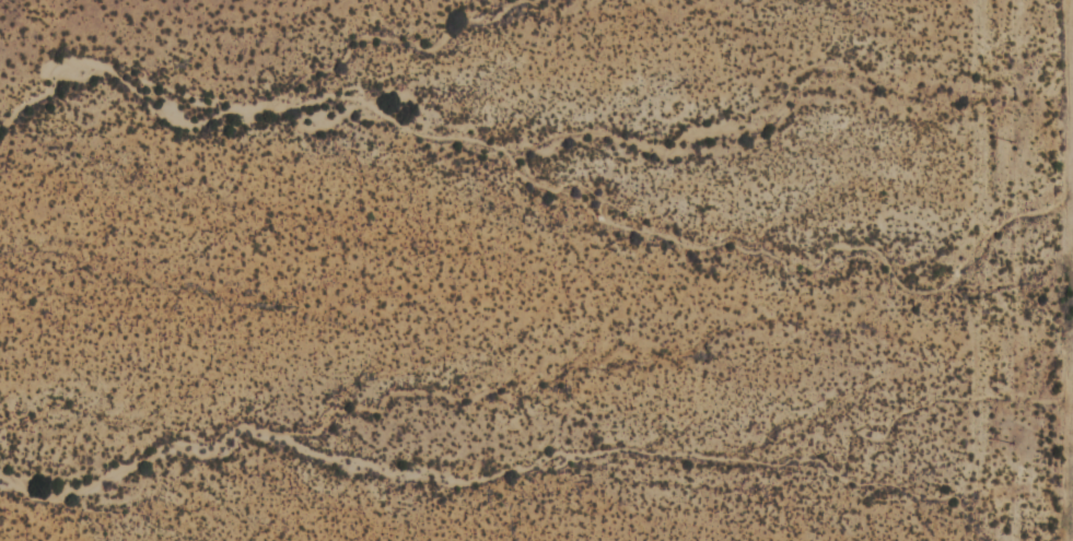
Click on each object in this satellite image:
power tower: (1007, 139)
power tower: (1007, 444)

